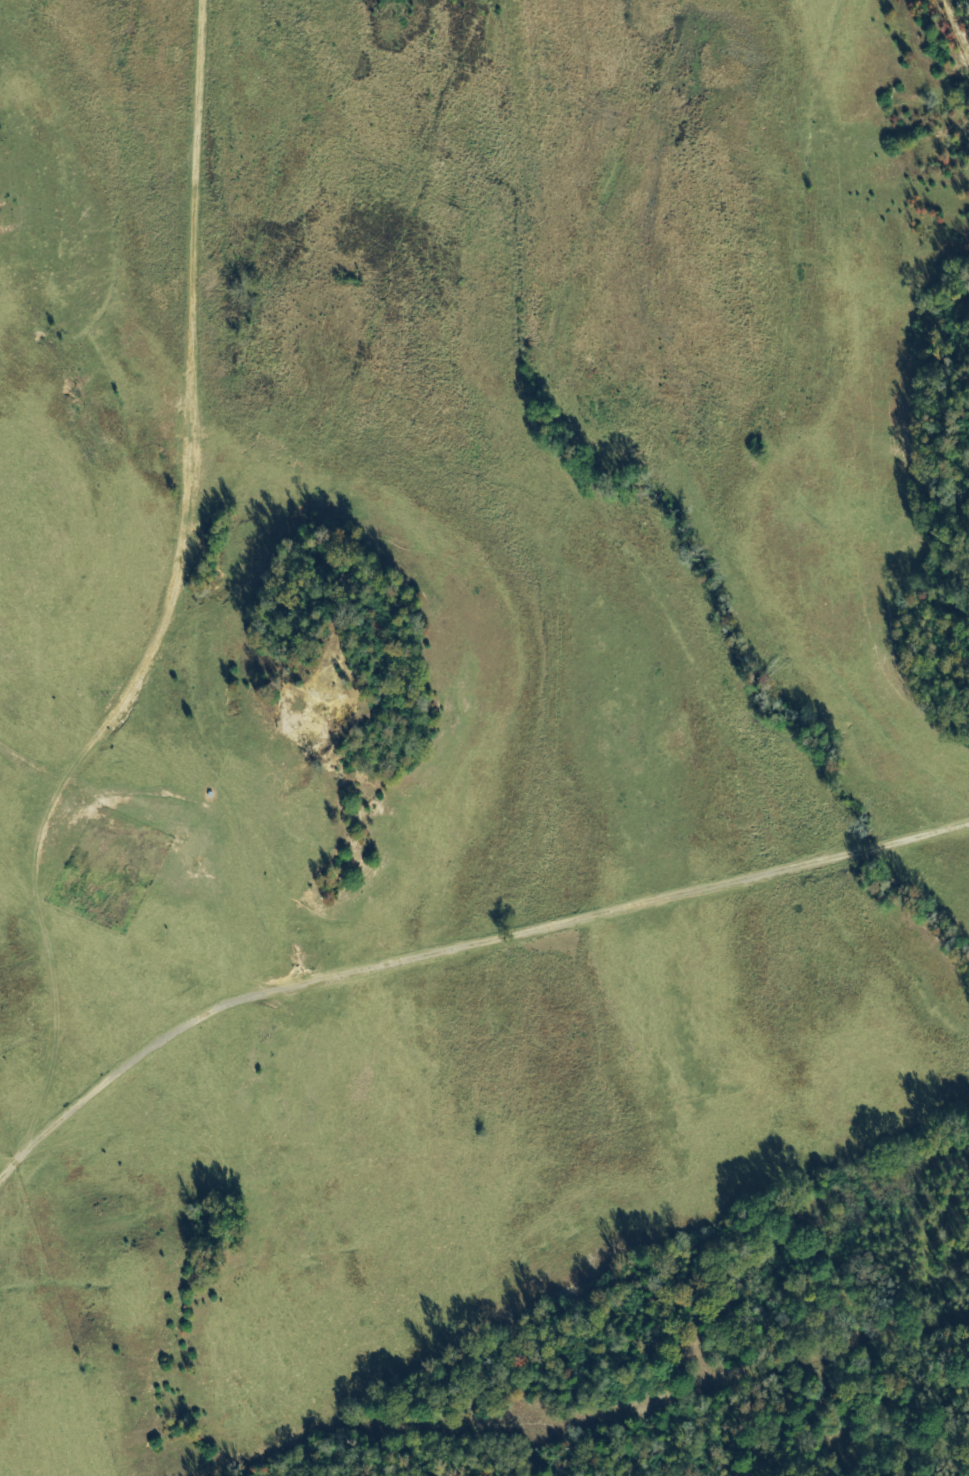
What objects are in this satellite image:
road: (91, 71)
road: (166, 590)
road: (29, 764)
road: (457, 944)

